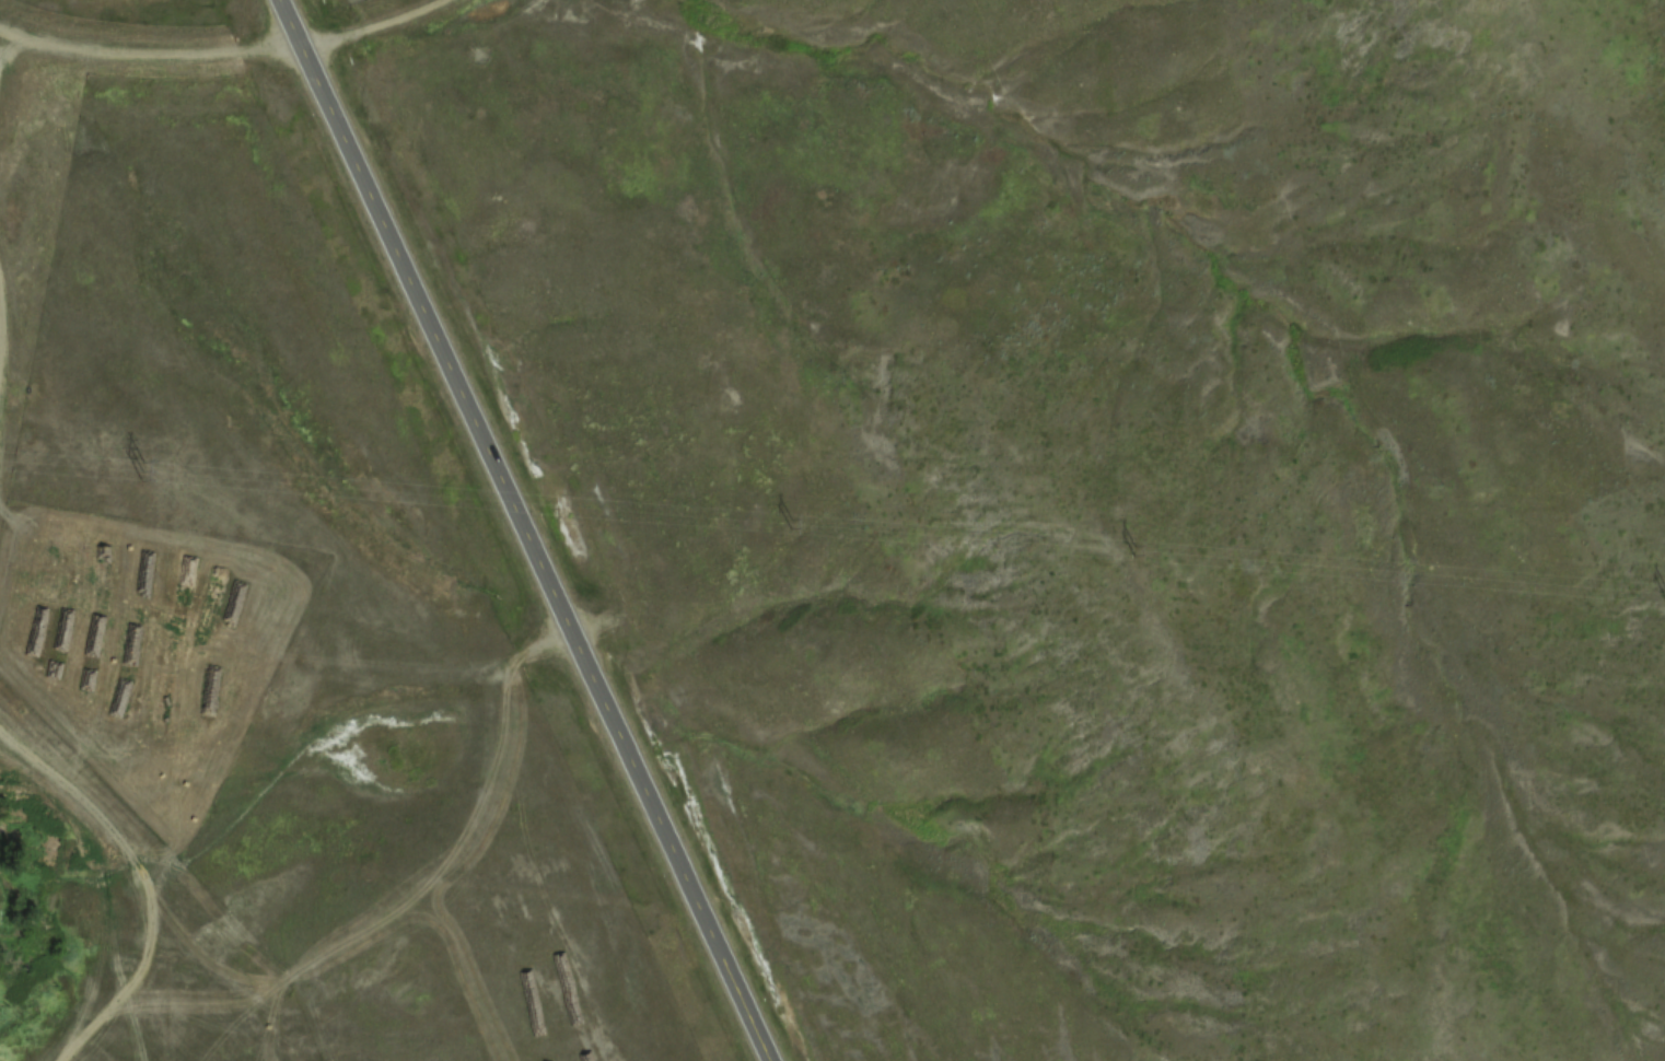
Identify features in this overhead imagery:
road: (283, 28)
road: (230, 67)
power tower: (144, 473)
power tower: (791, 525)
power tower: (1134, 551)
road: (531, 559)
power tower: (1663, 594)

